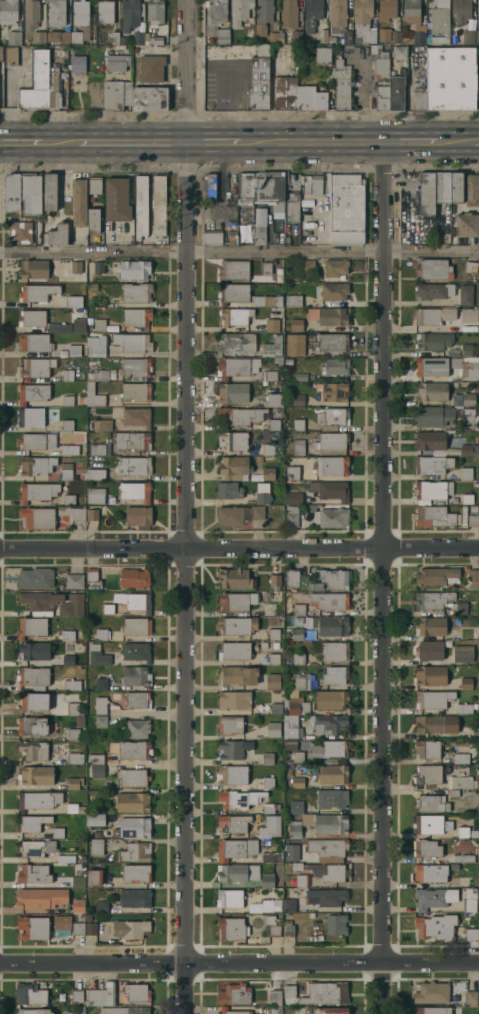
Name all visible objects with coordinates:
building: (155, 10)
building: (387, 10)
building: (462, 10)
building: (8, 11)
building: (105, 11)
building: (216, 11)
building: (240, 11)
building: (411, 12)
building: (56, 13)
building: (131, 13)
building: (289, 13)
building: (337, 13)
building: (31, 14)
building: (312, 14)
building: (263, 16)
building: (441, 17)
building: (363, 18)
building: (80, 20)
building: (222, 35)
building: (384, 35)
building: (323, 36)
building: (333, 36)
building: (471, 36)
building: (477, 36)
building: (14, 37)
building: (38, 37)
building: (59, 37)
building: (276, 37)
building: (296, 37)
building: (345, 37)
building: (396, 37)
building: (115, 38)
building: (146, 38)
building: (419, 38)
building: (357, 39)
building: (123, 40)
building: (437, 40)
building: (374, 49)
road: (163, 51)
building: (400, 52)
building: (1, 53)
building: (323, 55)
building: (10, 56)
building: (117, 62)
building: (77, 64)
building: (382, 67)
building: (151, 68)
building: (331, 71)
building: (259, 77)
building: (450, 78)
road: (238, 80)
building: (36, 82)
building: (342, 84)
building: (54, 88)
building: (397, 90)
road: (410, 91)
building: (285, 92)
building: (117, 94)
road: (365, 94)
building: (418, 95)
road: (406, 96)
building: (306, 97)
building: (149, 98)
building: (383, 98)
building: (322, 100)
road: (10, 106)
road: (20, 142)
road: (58, 142)
road: (132, 142)
road: (213, 142)
road: (311, 142)
road: (410, 142)
road: (456, 142)
road: (476, 142)
building: (293, 180)
building: (311, 183)
building: (246, 184)
building: (210, 186)
building: (471, 186)
building: (94, 187)
building: (443, 187)
building: (457, 187)
building: (270, 189)
building: (50, 191)
building: (31, 192)
building: (12, 193)
building: (427, 193)
building: (111, 198)
building: (123, 200)
building: (79, 202)
building: (347, 202)
building: (159, 204)
building: (141, 205)
building: (291, 206)
building: (247, 212)
building: (93, 220)
building: (466, 224)
building: (260, 225)
building: (231, 227)
building: (20, 231)
building: (62, 232)
building: (212, 236)
building: (52, 237)
road: (239, 251)
building: (307, 266)
building: (77, 267)
building: (99, 267)
building: (266, 267)
building: (334, 267)
building: (471, 267)
building: (457, 268)
building: (34, 269)
building: (233, 269)
building: (434, 269)
building: (135, 270)
building: (434, 290)
building: (332, 291)
building: (37, 292)
building: (232, 292)
building: (136, 293)
building: (465, 294)
building: (272, 300)
building: (293, 300)
building: (74, 301)
building: (234, 315)
building: (333, 315)
building: (468, 315)
building: (137, 316)
building: (427, 316)
building: (32, 318)
building: (78, 324)
building: (271, 324)
building: (296, 324)
building: (98, 325)
building: (59, 327)
building: (467, 327)
building: (236, 341)
building: (331, 341)
building: (433, 341)
building: (34, 342)
building: (133, 342)
building: (97, 345)
building: (272, 346)
building: (77, 350)
building: (467, 350)
building: (292, 352)
building: (277, 359)
building: (136, 366)
building: (236, 366)
building: (335, 366)
building: (432, 366)
building: (37, 367)
building: (471, 367)
building: (68, 375)
building: (97, 375)
building: (269, 375)
building: (300, 376)
building: (136, 391)
building: (332, 391)
building: (431, 391)
building: (233, 392)
building: (32, 393)
building: (93, 395)
building: (274, 399)
building: (297, 399)
building: (468, 399)
building: (67, 400)
building: (239, 415)
building: (336, 415)
building: (29, 416)
building: (136, 416)
building: (445, 416)
building: (67, 424)
building: (273, 424)
building: (298, 424)
building: (102, 425)
building: (38, 440)
building: (133, 440)
building: (431, 440)
building: (233, 441)
building: (331, 441)
building: (298, 446)
building: (267, 448)
building: (65, 449)
building: (99, 449)
building: (466, 449)
building: (476, 449)
building: (288, 459)
building: (474, 459)
building: (433, 464)
building: (36, 465)
building: (234, 465)
building: (332, 465)
building: (134, 466)
building: (66, 471)
building: (291, 472)
building: (268, 473)
building: (466, 473)
building: (96, 474)
building: (135, 490)
building: (228, 490)
building: (333, 490)
building: (431, 490)
building: (37, 491)
building: (95, 495)
building: (262, 495)
building: (295, 497)
building: (467, 498)
building: (69, 499)
building: (453, 500)
road: (185, 506)
building: (72, 512)
building: (92, 514)
building: (239, 514)
building: (310, 514)
building: (291, 515)
building: (139, 516)
building: (38, 517)
building: (332, 517)
building: (434, 517)
building: (473, 520)
road: (239, 548)
building: (437, 576)
building: (473, 577)
building: (36, 578)
building: (134, 578)
building: (235, 578)
building: (334, 578)
road: (384, 578)
building: (92, 580)
building: (275, 580)
building: (74, 581)
building: (300, 581)
building: (432, 599)
building: (241, 600)
building: (331, 600)
building: (134, 601)
building: (40, 602)
building: (72, 605)
building: (460, 607)
building: (108, 609)
building: (269, 609)
building: (299, 609)
building: (298, 620)
building: (237, 625)
building: (329, 625)
building: (136, 626)
building: (430, 626)
building: (31, 627)
building: (297, 633)
building: (100, 634)
building: (274, 634)
building: (72, 635)
building: (429, 650)
building: (34, 651)
building: (136, 651)
building: (234, 651)
building: (334, 651)
building: (462, 653)
building: (98, 656)
building: (274, 659)
building: (298, 659)
building: (68, 660)
building: (136, 675)
building: (238, 675)
building: (335, 675)
building: (431, 675)
building: (32, 677)
building: (273, 681)
building: (300, 681)
building: (466, 683)
building: (71, 684)
building: (100, 684)
building: (115, 695)
building: (274, 696)
building: (433, 698)
building: (33, 700)
building: (138, 700)
building: (234, 700)
building: (331, 700)
building: (295, 703)
building: (100, 705)
building: (476, 706)
building: (66, 708)
building: (276, 708)
building: (464, 708)
building: (79, 719)
building: (100, 721)
building: (230, 724)
building: (329, 724)
building: (437, 724)
building: (31, 725)
building: (137, 728)
building: (273, 729)
building: (292, 732)
building: (73, 734)
building: (290, 744)
building: (131, 749)
building: (233, 749)
building: (329, 749)
building: (427, 749)
building: (33, 750)
building: (463, 754)
building: (297, 757)
building: (75, 758)
building: (267, 758)
building: (99, 759)
building: (313, 769)
building: (97, 770)
building: (231, 774)
building: (333, 774)
building: (428, 774)
building: (36, 775)
building: (132, 777)
building: (74, 782)
building: (268, 782)
building: (298, 782)
building: (465, 782)
building: (454, 792)
building: (95, 795)
building: (238, 798)
building: (332, 799)
building: (37, 800)
building: (132, 802)
building: (432, 803)
building: (269, 807)
building: (296, 807)
building: (74, 808)
building: (95, 819)
building: (237, 822)
building: (31, 823)
building: (428, 824)
building: (327, 825)
building: (270, 826)
building: (133, 827)
building: (294, 829)
building: (56, 832)
building: (463, 832)
building: (474, 833)
building: (96, 846)
building: (36, 848)
building: (235, 849)
building: (327, 849)
building: (426, 849)
building: (291, 851)
building: (136, 853)
building: (478, 855)
building: (296, 856)
building: (272, 857)
building: (64, 858)
building: (464, 858)
building: (324, 871)
building: (237, 872)
building: (432, 872)
building: (33, 873)
building: (136, 873)
building: (93, 878)
building: (267, 880)
building: (78, 881)
building: (302, 881)
building: (135, 897)
building: (326, 897)
building: (435, 897)
building: (40, 898)
building: (229, 898)
building: (470, 900)
building: (78, 905)
building: (288, 905)
building: (100, 906)
building: (263, 906)
building: (469, 914)
building: (270, 919)
building: (61, 922)
building: (336, 924)
building: (32, 927)
building: (436, 927)
building: (77, 928)
building: (90, 928)
building: (232, 928)
building: (288, 928)
building: (134, 929)
building: (272, 930)
building: (472, 934)
road: (239, 961)
building: (290, 990)
building: (478, 990)
building: (136, 992)
building: (325, 993)
building: (434, 993)
building: (30, 994)
building: (234, 994)
building: (77, 995)
building: (101, 995)
building: (275, 997)
building: (471, 997)
building: (82, 1009)
building: (125, 1010)
building: (274, 1010)
building: (330, 1010)
building: (433, 1010)
building: (34, 1011)
building: (233, 1011)
building: (71, 1013)

